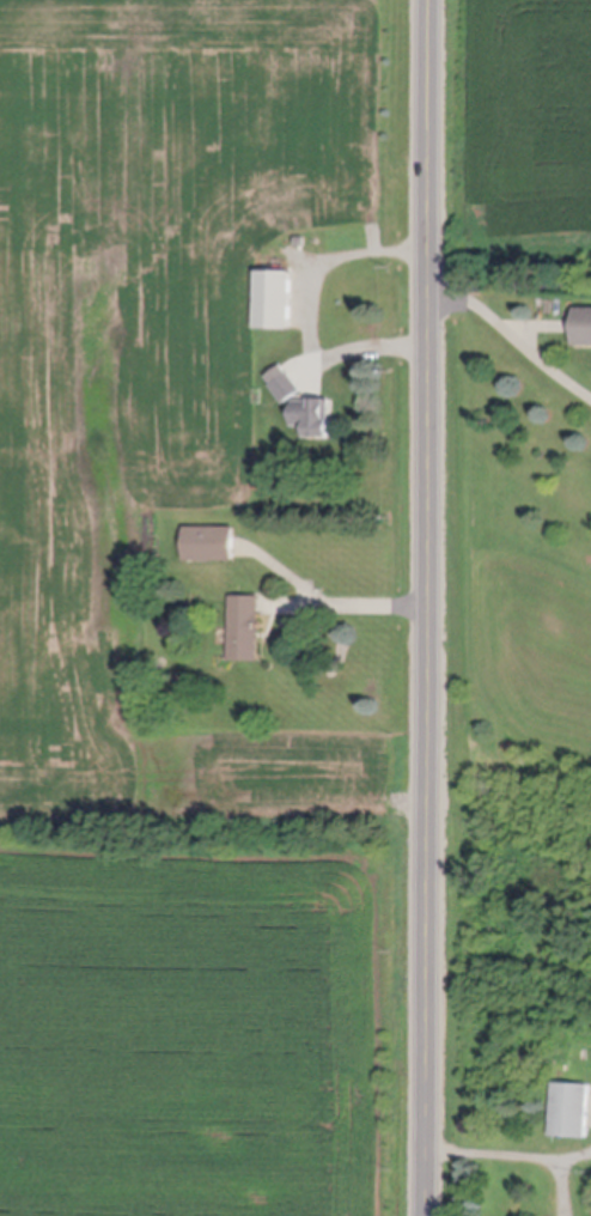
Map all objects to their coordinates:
road: (511, 285)
building: (278, 304)
road: (316, 312)
building: (584, 332)
road: (513, 335)
building: (290, 391)
building: (317, 421)
building: (212, 546)
road: (354, 601)
road: (428, 607)
building: (246, 631)
building: (572, 1113)
road: (510, 1149)

